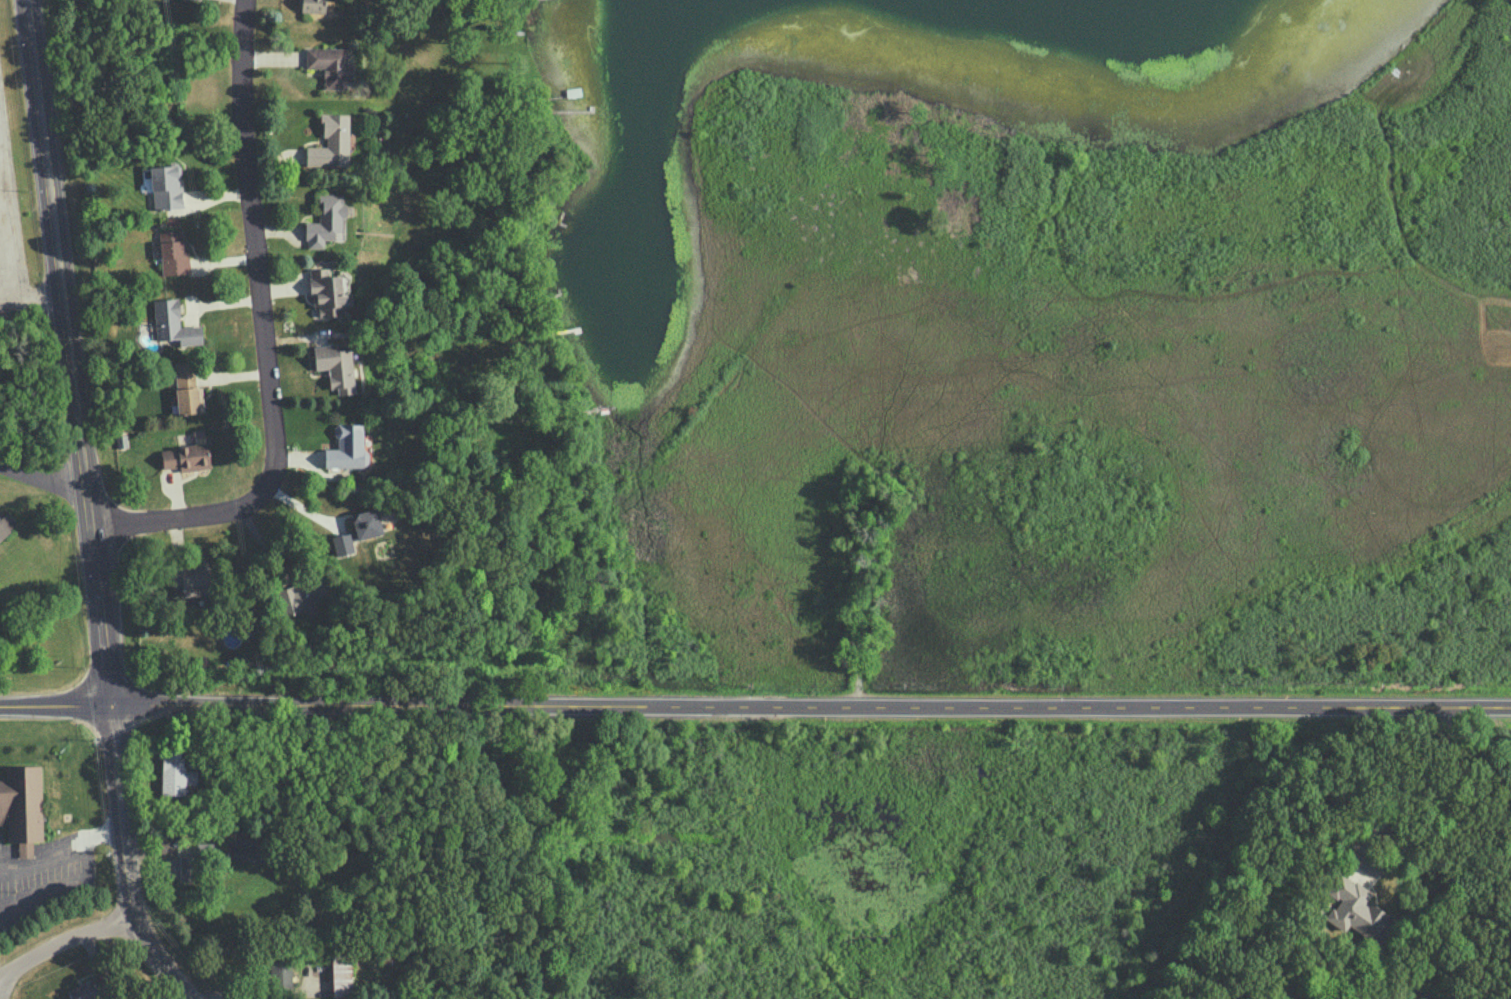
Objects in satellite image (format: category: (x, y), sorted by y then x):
building: (312, 5)
building: (331, 66)
building: (331, 142)
building: (165, 186)
building: (326, 220)
parking lot: (12, 227)
road: (53, 250)
building: (173, 253)
road: (1, 280)
building: (326, 292)
building: (173, 323)
road: (265, 337)
building: (335, 366)
building: (346, 447)
building: (185, 457)
road: (42, 483)
road: (85, 515)
building: (365, 524)
building: (2, 531)
building: (342, 543)
building: (303, 592)
road: (55, 702)
road: (810, 705)
road: (116, 773)
building: (174, 773)
road: (1445, 789)
building: (22, 806)
road: (43, 855)
building: (178, 867)
road: (76, 880)
building: (1356, 909)
road: (65, 939)
building: (280, 973)

